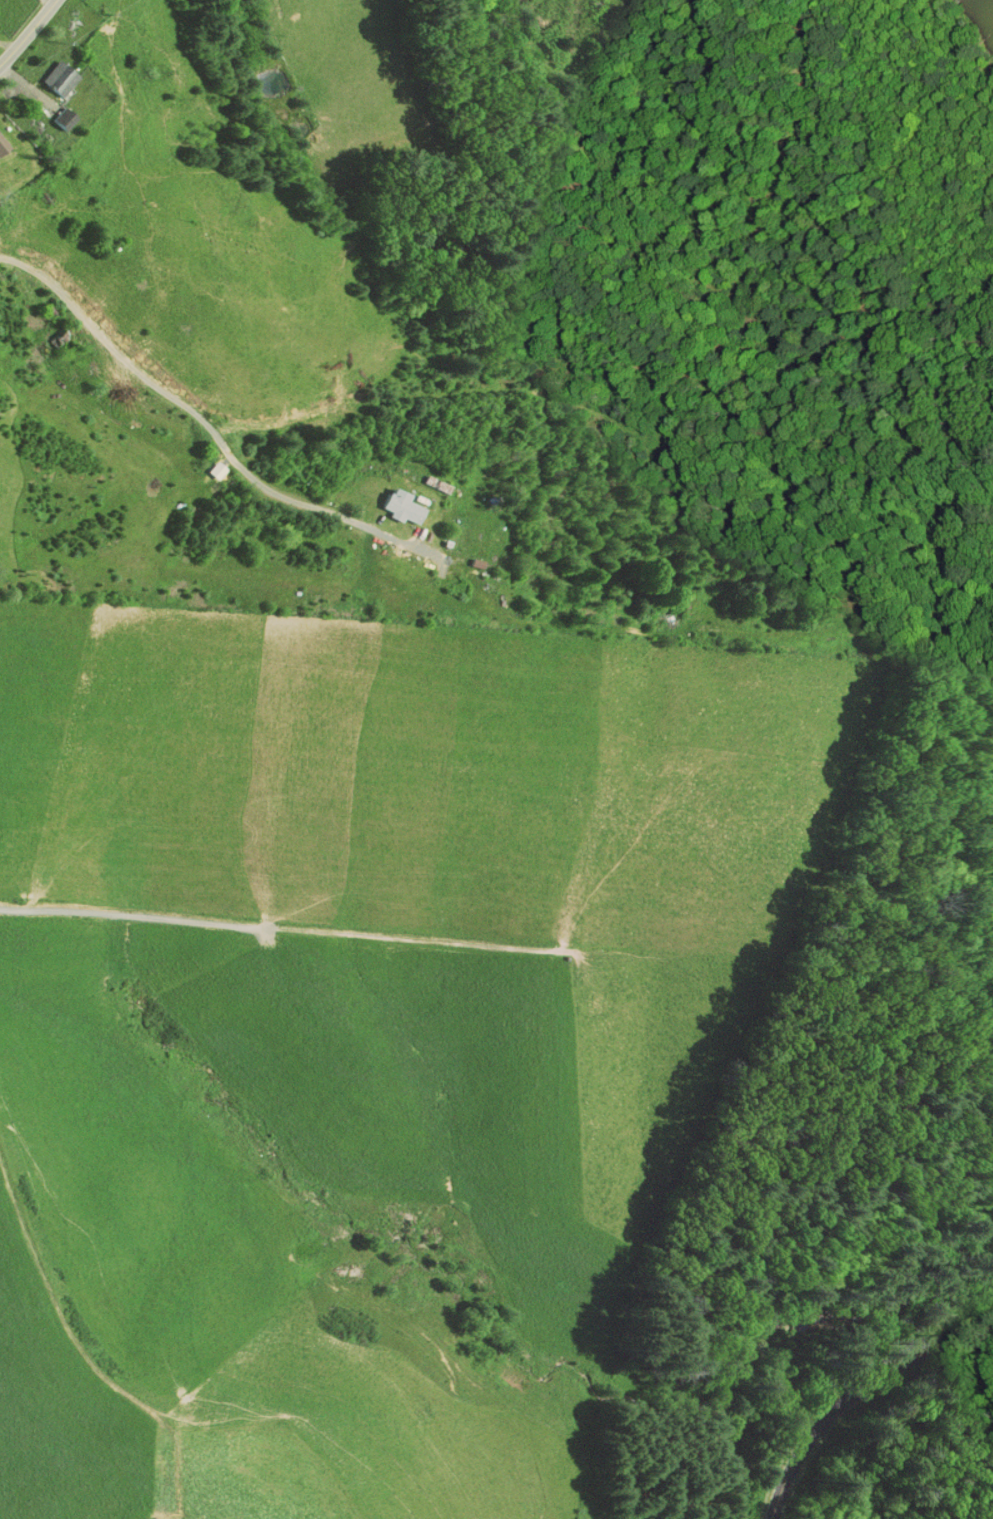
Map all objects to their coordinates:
road: (30, 34)
road: (315, 508)
road: (858, 1394)

